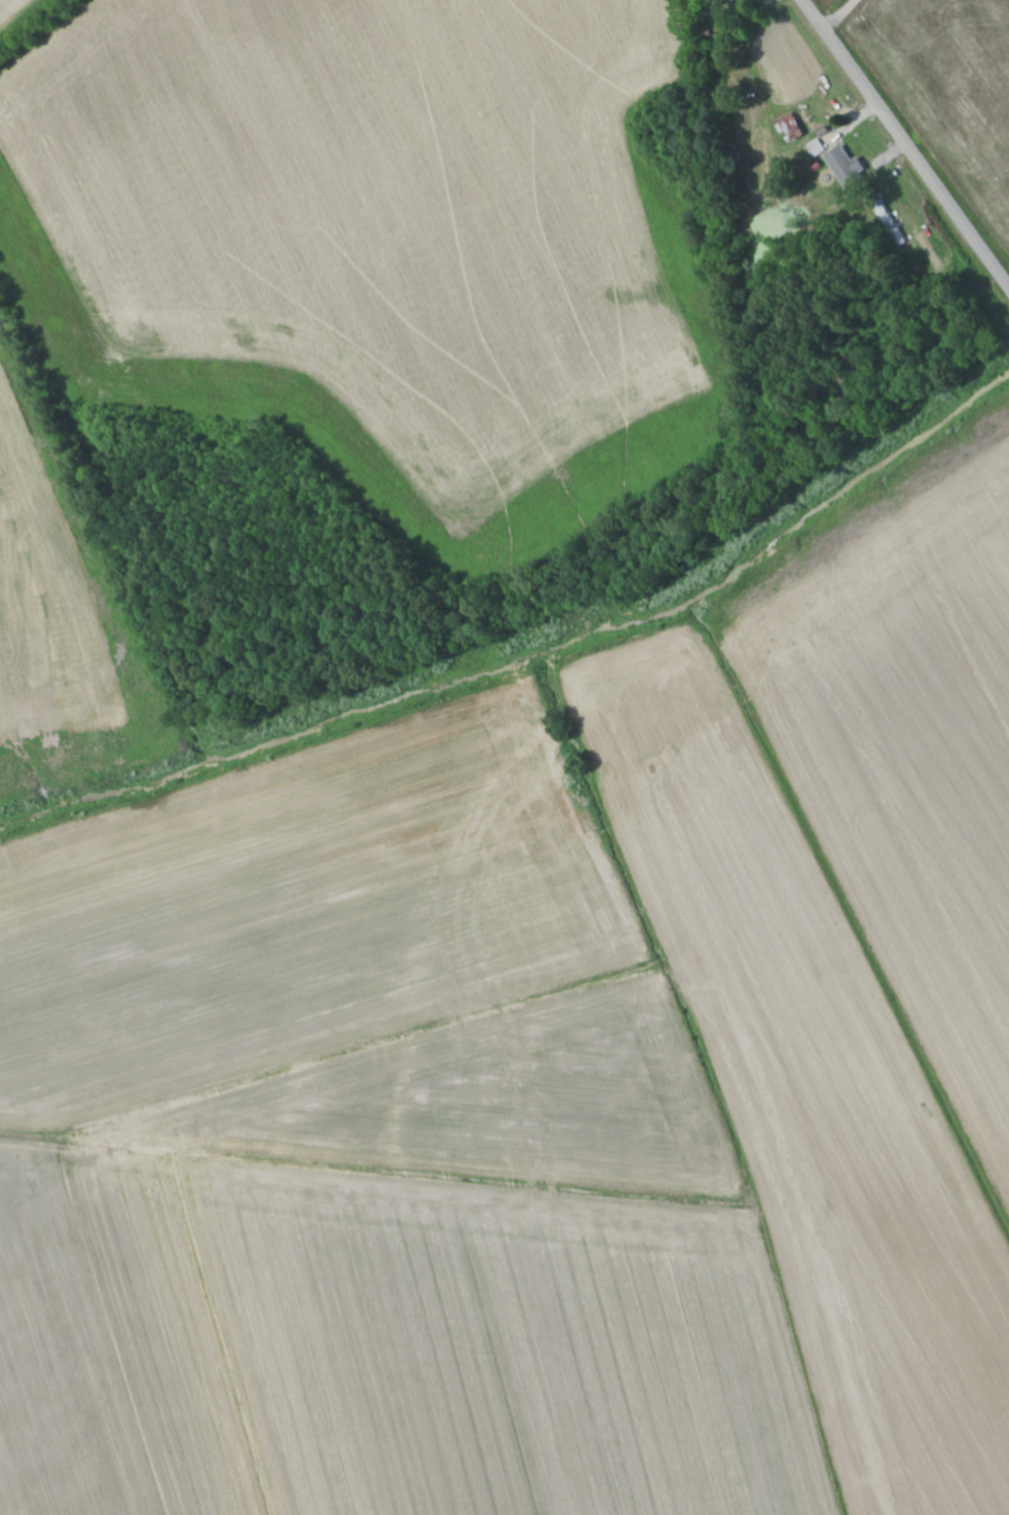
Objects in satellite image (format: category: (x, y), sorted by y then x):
building: (796, 128)
road: (904, 144)
building: (818, 148)
building: (849, 167)

